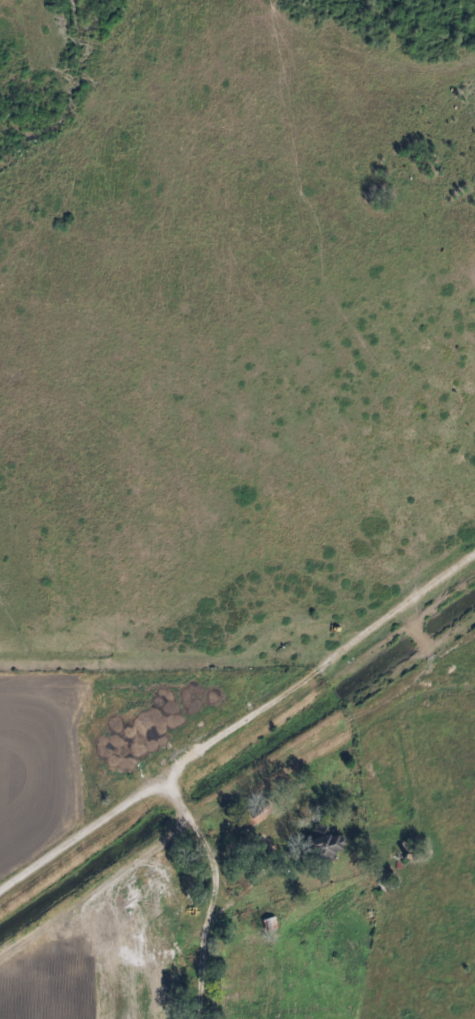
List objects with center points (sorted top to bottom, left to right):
road: (320, 668)
road: (82, 837)
road: (216, 893)
road: (235, 913)

